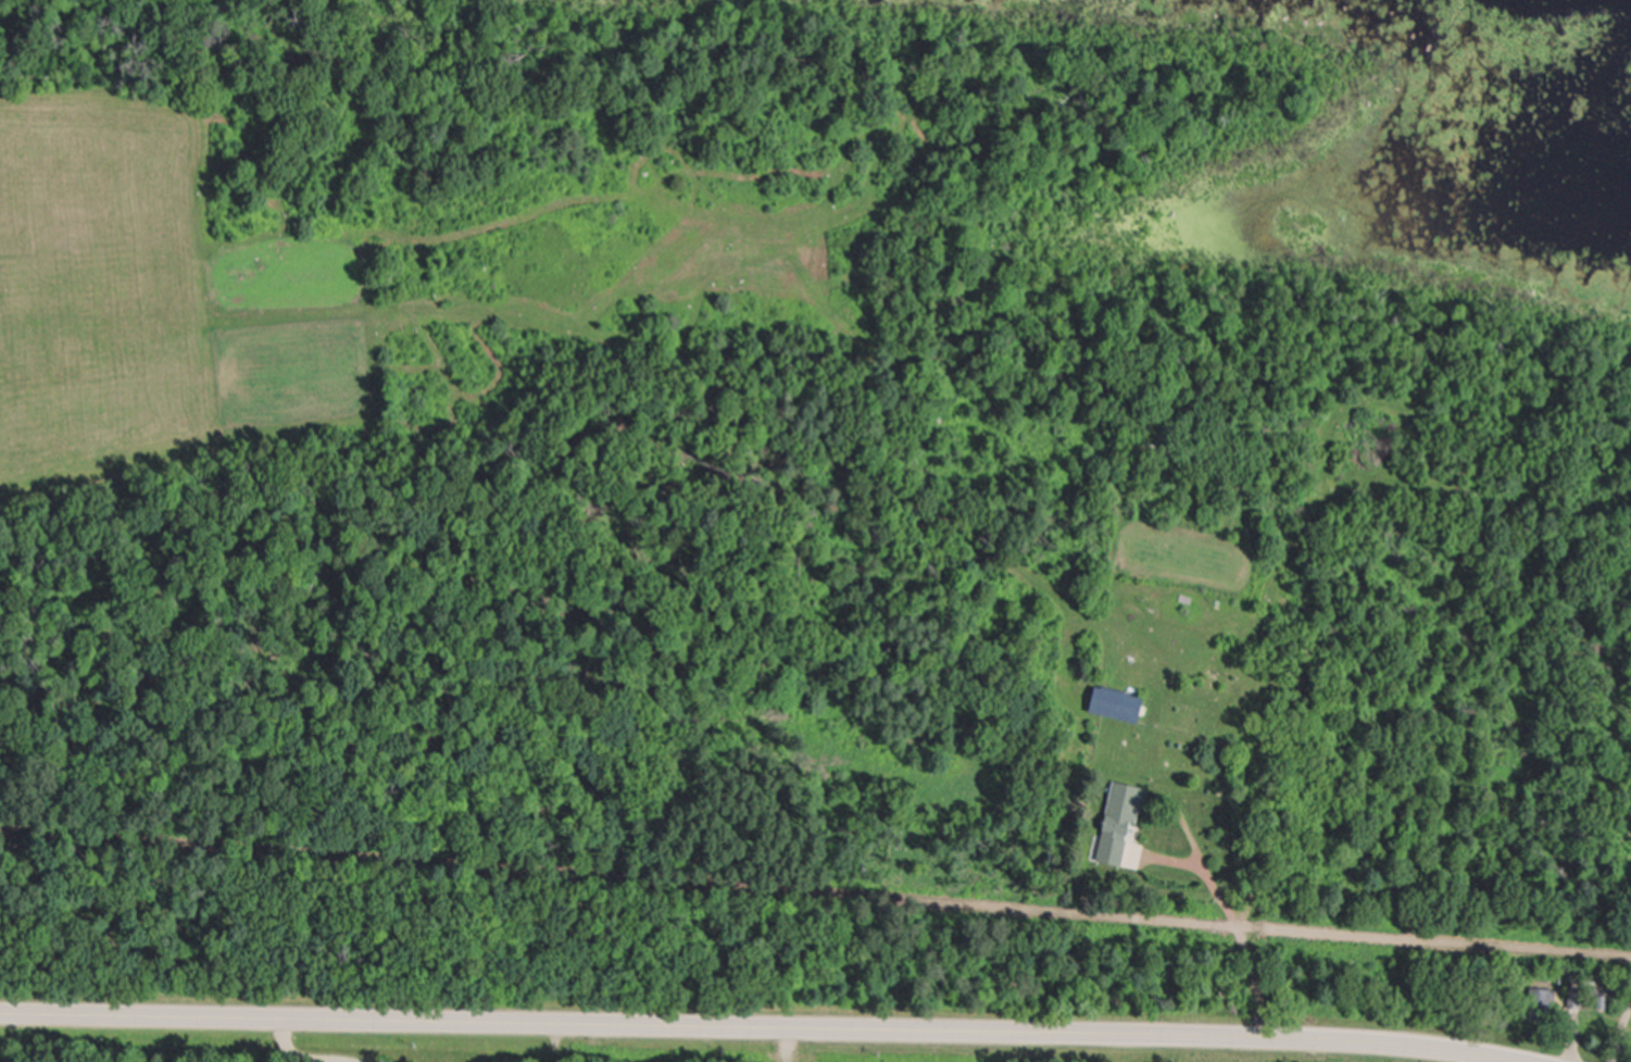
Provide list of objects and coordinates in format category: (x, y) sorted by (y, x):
building: (1120, 705)
building: (1121, 824)
road: (1175, 860)
road: (815, 897)
road: (1238, 928)
road: (753, 1029)
road: (1620, 1029)

